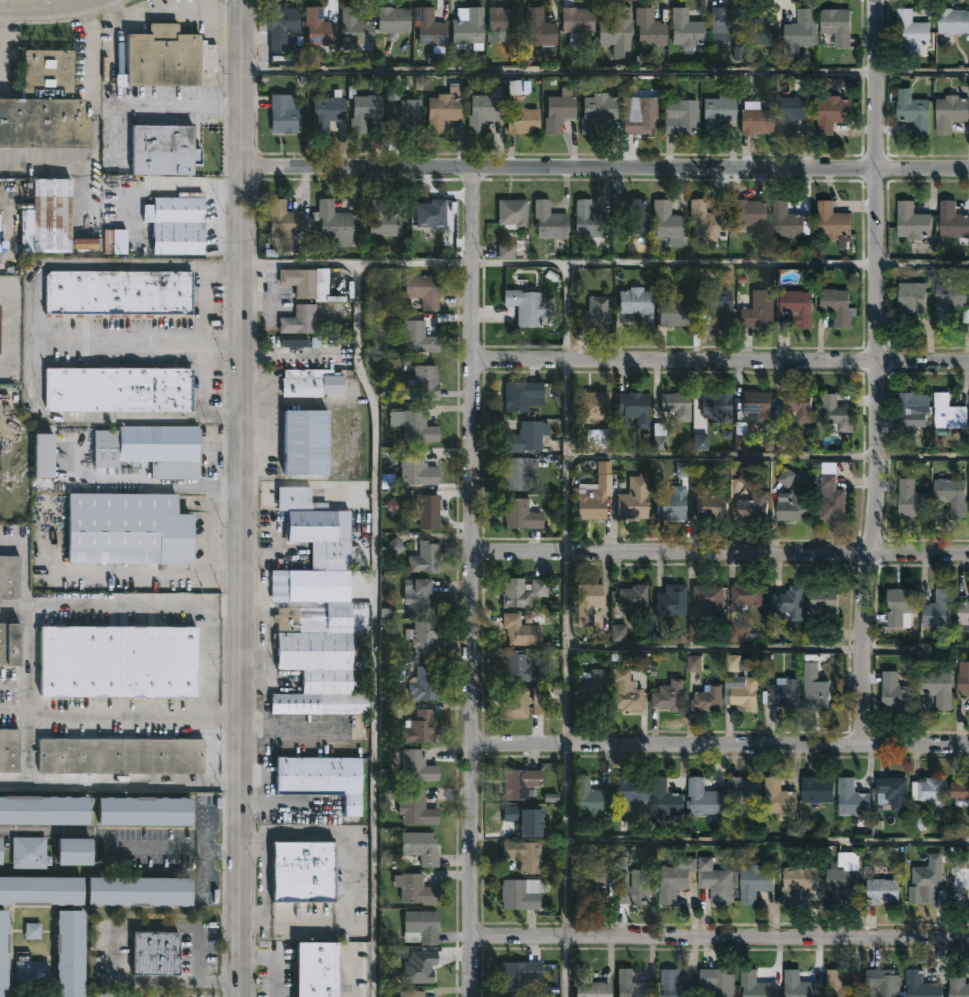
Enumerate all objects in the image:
road: (49, 10)
road: (157, 14)
building: (393, 19)
building: (728, 19)
building: (576, 22)
building: (953, 22)
building: (502, 23)
building: (282, 26)
building: (837, 26)
building: (429, 28)
building: (467, 28)
building: (649, 28)
building: (761, 28)
building: (538, 29)
building: (801, 29)
building: (319, 30)
building: (686, 30)
building: (355, 31)
building: (616, 32)
building: (913, 33)
building: (160, 58)
road: (606, 71)
building: (44, 106)
building: (444, 108)
building: (362, 110)
building: (597, 111)
building: (718, 111)
building: (914, 111)
building: (327, 112)
building: (483, 112)
building: (831, 112)
building: (558, 113)
building: (951, 113)
building: (793, 114)
building: (640, 115)
building: (283, 116)
road: (94, 117)
building: (520, 117)
building: (680, 117)
building: (405, 119)
building: (756, 119)
building: (163, 151)
road: (605, 167)
road: (8, 182)
building: (431, 213)
building: (512, 214)
building: (748, 214)
building: (48, 217)
building: (633, 217)
building: (286, 221)
building: (549, 221)
building: (590, 221)
building: (704, 221)
building: (953, 221)
building: (333, 222)
building: (913, 222)
building: (384, 223)
building: (787, 223)
building: (668, 224)
building: (834, 224)
building: (177, 225)
building: (433, 248)
road: (606, 264)
building: (303, 282)
building: (423, 291)
building: (117, 293)
building: (913, 297)
building: (713, 301)
building: (949, 301)
building: (636, 305)
building: (838, 306)
building: (526, 307)
building: (798, 308)
building: (759, 311)
building: (594, 312)
building: (675, 313)
building: (299, 321)
building: (0, 327)
building: (416, 337)
road: (39, 340)
road: (141, 340)
road: (721, 361)
road: (877, 372)
building: (423, 383)
building: (309, 384)
building: (118, 390)
building: (521, 396)
building: (758, 405)
building: (594, 406)
building: (676, 406)
building: (798, 406)
building: (634, 408)
building: (716, 408)
building: (912, 410)
building: (835, 413)
building: (949, 414)
building: (412, 427)
building: (659, 436)
building: (525, 438)
building: (305, 443)
building: (150, 450)
road: (767, 455)
building: (42, 457)
building: (415, 469)
building: (516, 475)
building: (953, 496)
road: (243, 498)
building: (634, 500)
building: (832, 500)
building: (913, 500)
building: (672, 504)
building: (591, 505)
building: (793, 505)
road: (229, 507)
building: (712, 507)
building: (754, 507)
building: (428, 512)
building: (522, 516)
building: (127, 530)
road: (211, 541)
building: (314, 550)
road: (720, 552)
building: (423, 557)
road: (154, 574)
building: (9, 578)
road: (472, 581)
road: (23, 582)
building: (522, 593)
building: (748, 595)
building: (419, 598)
building: (633, 598)
building: (708, 600)
building: (589, 601)
building: (672, 601)
building: (828, 603)
building: (789, 605)
building: (901, 606)
building: (940, 609)
building: (964, 616)
road: (373, 628)
road: (566, 630)
building: (520, 631)
building: (425, 639)
building: (9, 645)
road: (767, 648)
road: (29, 659)
building: (316, 661)
building: (118, 662)
building: (517, 665)
building: (964, 677)
road: (14, 684)
building: (424, 684)
building: (741, 685)
building: (590, 688)
building: (939, 688)
building: (820, 690)
building: (625, 692)
building: (896, 692)
building: (784, 694)
building: (669, 695)
building: (709, 699)
building: (522, 701)
road: (14, 707)
building: (421, 726)
road: (308, 736)
road: (720, 744)
road: (27, 749)
building: (9, 750)
building: (120, 755)
building: (417, 766)
building: (321, 778)
road: (121, 783)
building: (519, 783)
building: (631, 788)
building: (817, 788)
building: (744, 789)
building: (931, 790)
building: (961, 791)
building: (892, 792)
building: (589, 798)
building: (853, 798)
building: (706, 799)
building: (780, 799)
building: (666, 803)
building: (413, 808)
building: (43, 809)
building: (144, 810)
building: (522, 820)
road: (95, 835)
road: (767, 840)
building: (420, 847)
road: (209, 848)
building: (74, 851)
road: (226, 851)
building: (28, 852)
building: (1, 853)
building: (523, 855)
building: (302, 872)
building: (845, 875)
building: (674, 879)
building: (928, 879)
road: (349, 880)
building: (588, 880)
building: (800, 880)
building: (716, 881)
building: (958, 881)
building: (757, 882)
building: (634, 888)
building: (415, 889)
building: (40, 890)
building: (139, 890)
building: (883, 891)
building: (519, 894)
road: (78, 910)
building: (421, 926)
building: (34, 933)
road: (721, 936)
road: (114, 947)
road: (10, 948)
building: (3, 952)
building: (69, 952)
building: (154, 953)
road: (277, 960)
road: (50, 963)
building: (316, 969)
building: (416, 971)
building: (31, 974)
building: (519, 975)
building: (717, 981)
building: (959, 981)
building: (882, 983)
building: (588, 984)
building: (673, 984)
building: (841, 984)
building: (631, 985)
building: (759, 985)
building: (800, 985)
building: (922, 985)
building: (410, 993)

